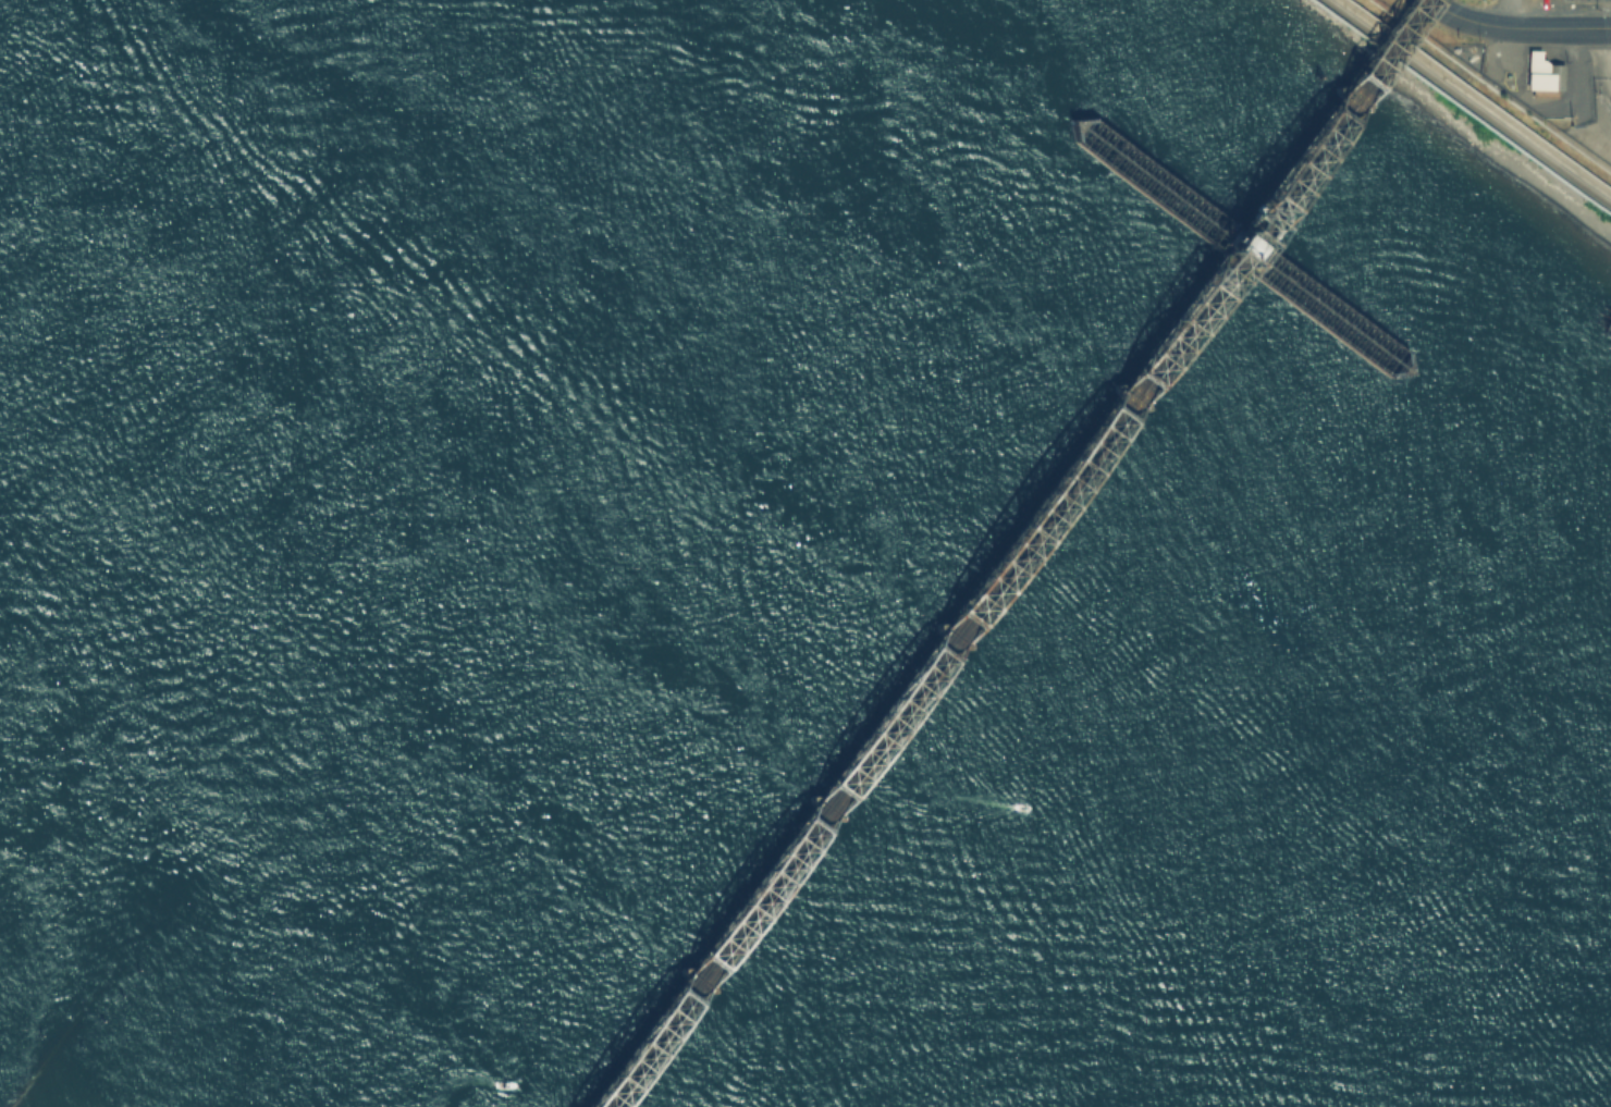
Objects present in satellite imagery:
road: (1446, 9)
road: (1535, 25)
railway: (1379, 50)
railway: (1388, 52)
road: (1604, 57)
building: (1541, 72)
railway: (1468, 102)
railway: (1232, 250)
railway: (1239, 255)
pier: (1610, 313)
river: (807, 528)
railway: (859, 753)
railway: (868, 755)

